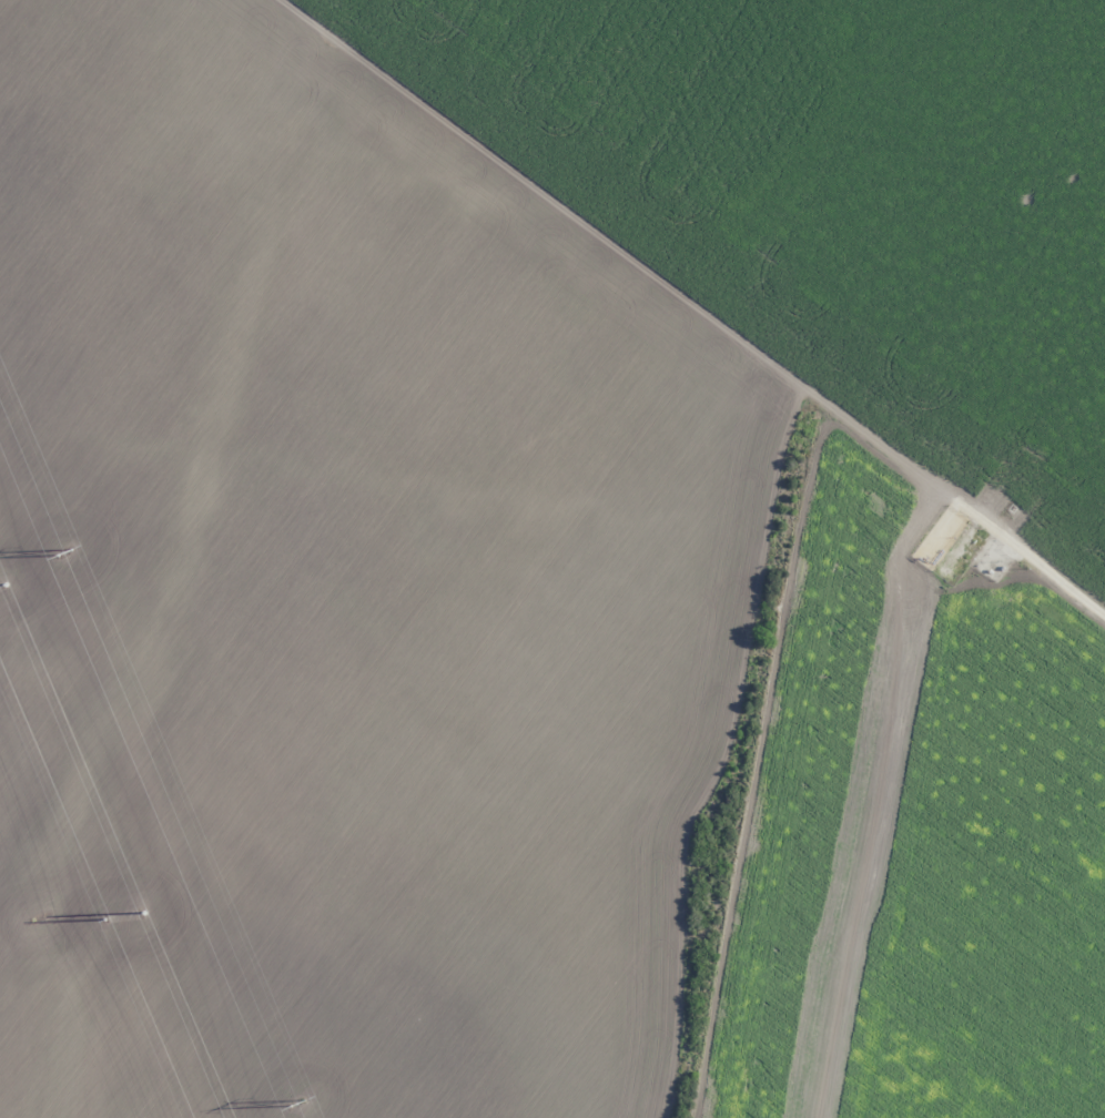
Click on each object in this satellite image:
power tower: (62, 552)
crop: (552, 559)
power tower: (1, 577)
power tower: (138, 902)
power tower: (103, 921)
power tower: (293, 1101)

